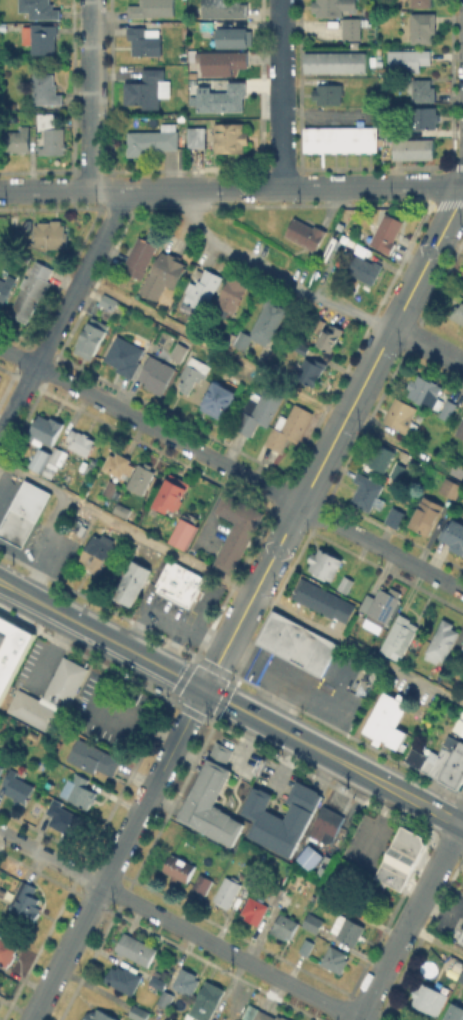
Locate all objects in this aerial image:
building: (422, 3)
building: (329, 7)
building: (40, 8)
building: (152, 8)
building: (222, 8)
building: (352, 27)
building: (423, 27)
building: (41, 37)
building: (233, 37)
building: (145, 40)
building: (408, 59)
building: (335, 61)
building: (222, 63)
building: (355, 80)
building: (148, 88)
building: (46, 89)
building: (421, 90)
road: (282, 93)
building: (328, 93)
road: (91, 95)
building: (222, 97)
building: (425, 117)
building: (184, 121)
building: (386, 127)
building: (51, 134)
building: (197, 136)
building: (230, 136)
building: (341, 138)
building: (16, 139)
building: (153, 139)
building: (414, 148)
road: (231, 187)
building: (14, 222)
building: (50, 232)
building: (387, 232)
building: (306, 233)
road: (452, 242)
building: (140, 257)
building: (168, 268)
building: (364, 271)
road: (272, 279)
building: (6, 287)
building: (203, 287)
building: (32, 295)
building: (231, 295)
building: (106, 299)
building: (458, 312)
road: (62, 313)
building: (263, 324)
building: (231, 336)
building: (330, 336)
building: (92, 337)
road: (428, 344)
building: (301, 348)
building: (179, 351)
building: (126, 354)
road: (256, 368)
building: (312, 369)
building: (157, 373)
building: (193, 373)
building: (425, 390)
building: (221, 396)
building: (448, 408)
building: (259, 411)
building: (436, 411)
building: (421, 414)
building: (399, 415)
building: (289, 426)
building: (45, 429)
building: (460, 429)
building: (80, 441)
road: (333, 441)
building: (58, 455)
building: (381, 456)
building: (40, 458)
building: (116, 463)
road: (231, 468)
building: (398, 470)
building: (49, 471)
building: (141, 477)
building: (113, 485)
building: (107, 487)
building: (451, 487)
road: (10, 489)
building: (366, 491)
building: (172, 492)
building: (122, 509)
building: (23, 512)
building: (397, 513)
building: (427, 514)
building: (184, 532)
building: (237, 534)
building: (455, 537)
road: (51, 544)
building: (95, 551)
building: (325, 563)
building: (130, 580)
building: (177, 582)
building: (345, 582)
road: (231, 583)
road: (29, 596)
building: (323, 600)
building: (382, 607)
building: (399, 640)
building: (443, 640)
building: (289, 645)
building: (12, 649)
road: (131, 651)
road: (240, 653)
road: (259, 663)
building: (462, 664)
road: (305, 687)
building: (50, 697)
road: (271, 697)
road: (134, 719)
building: (388, 721)
road: (333, 757)
building: (434, 757)
building: (96, 761)
building: (0, 766)
building: (455, 769)
building: (1, 771)
building: (18, 786)
building: (81, 789)
building: (212, 798)
building: (61, 815)
building: (280, 818)
building: (325, 825)
road: (117, 854)
building: (307, 856)
building: (398, 857)
building: (179, 868)
building: (204, 882)
building: (228, 891)
building: (277, 894)
building: (330, 895)
building: (24, 898)
building: (255, 909)
road: (409, 920)
building: (313, 922)
road: (178, 925)
building: (285, 926)
building: (352, 931)
building: (461, 936)
road: (435, 940)
building: (307, 945)
building: (136, 950)
building: (8, 951)
building: (335, 958)
building: (124, 980)
building: (461, 980)
building: (187, 982)
building: (158, 983)
building: (0, 984)
building: (0, 995)
building: (166, 998)
building: (430, 998)
building: (210, 1001)
building: (139, 1013)
building: (455, 1013)
building: (260, 1015)
building: (99, 1016)

